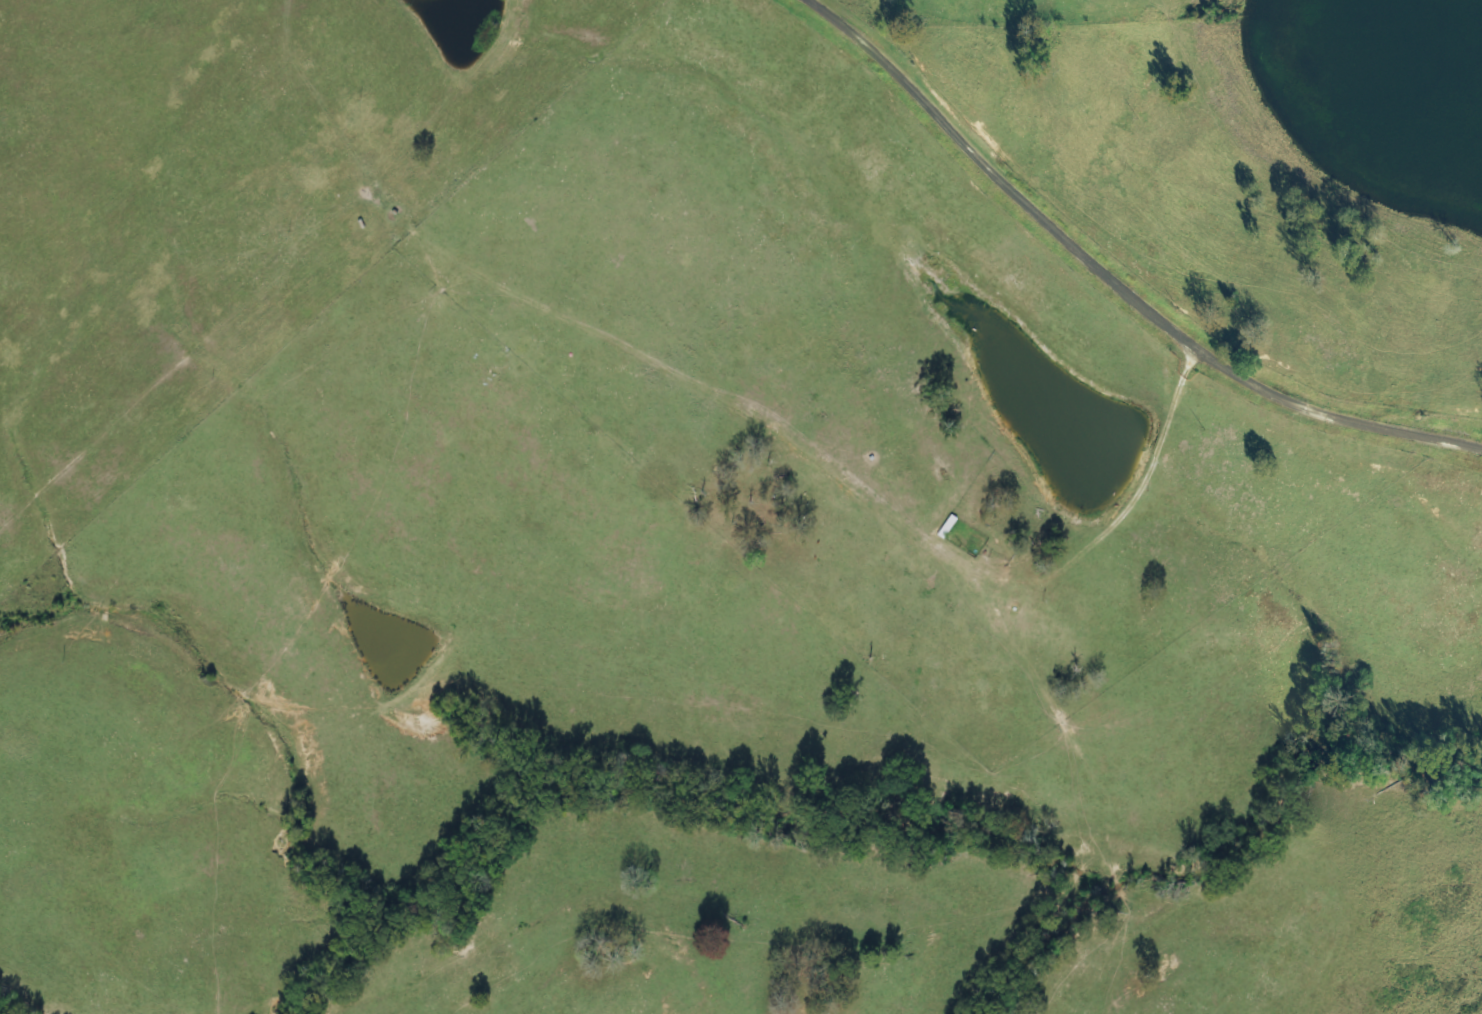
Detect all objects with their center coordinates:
road: (1287, 176)
road: (1115, 274)

